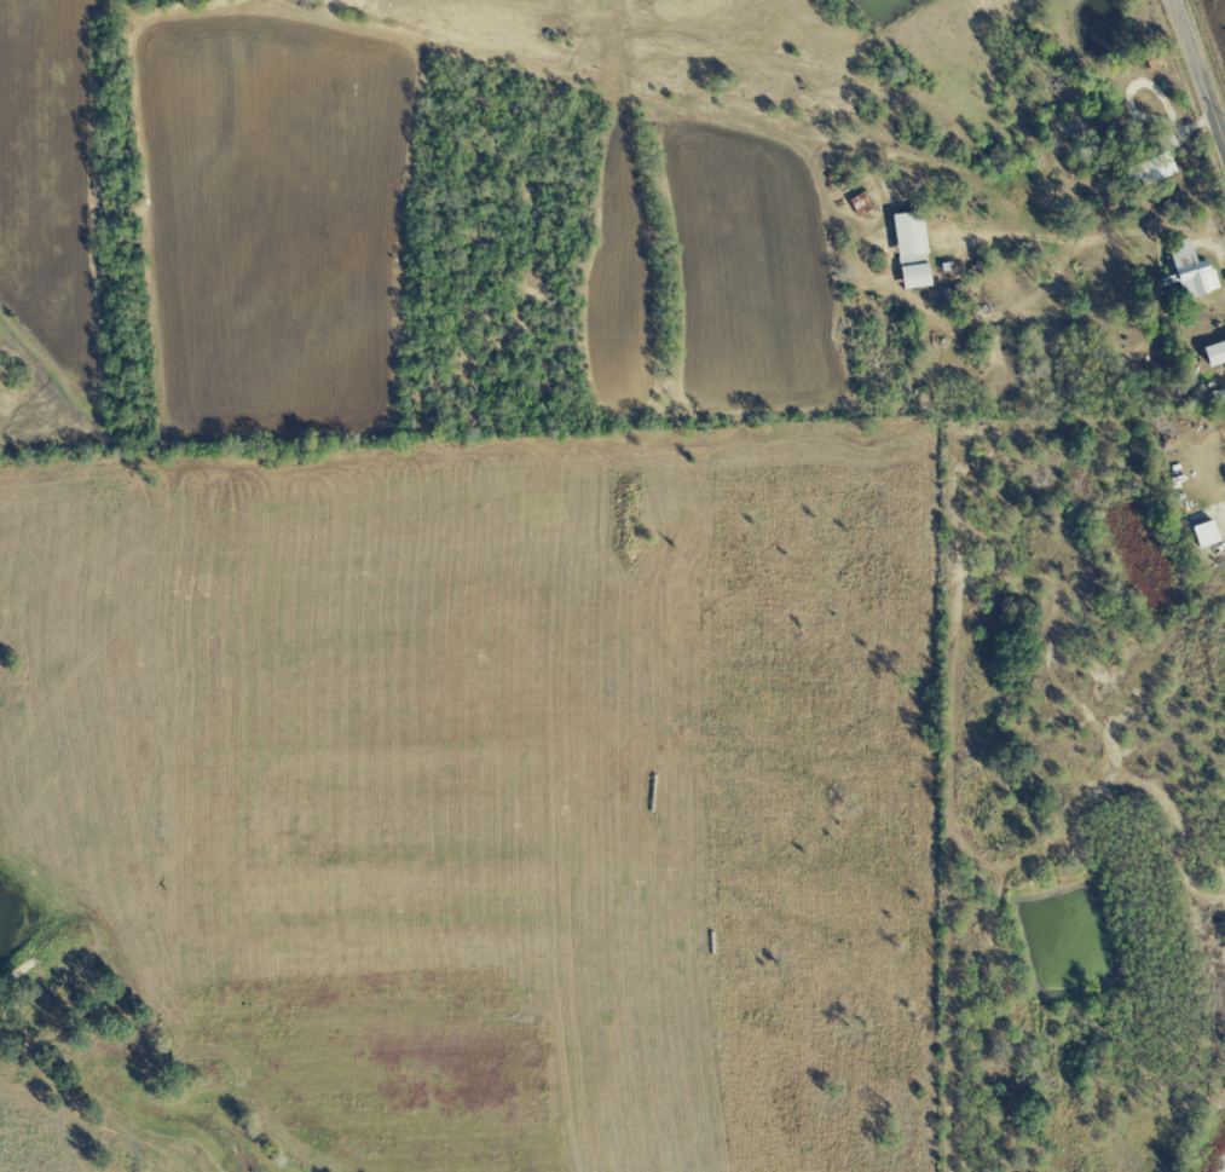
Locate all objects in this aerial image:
road: (1198, 73)
building: (909, 250)
building: (1190, 271)
building: (1214, 354)

